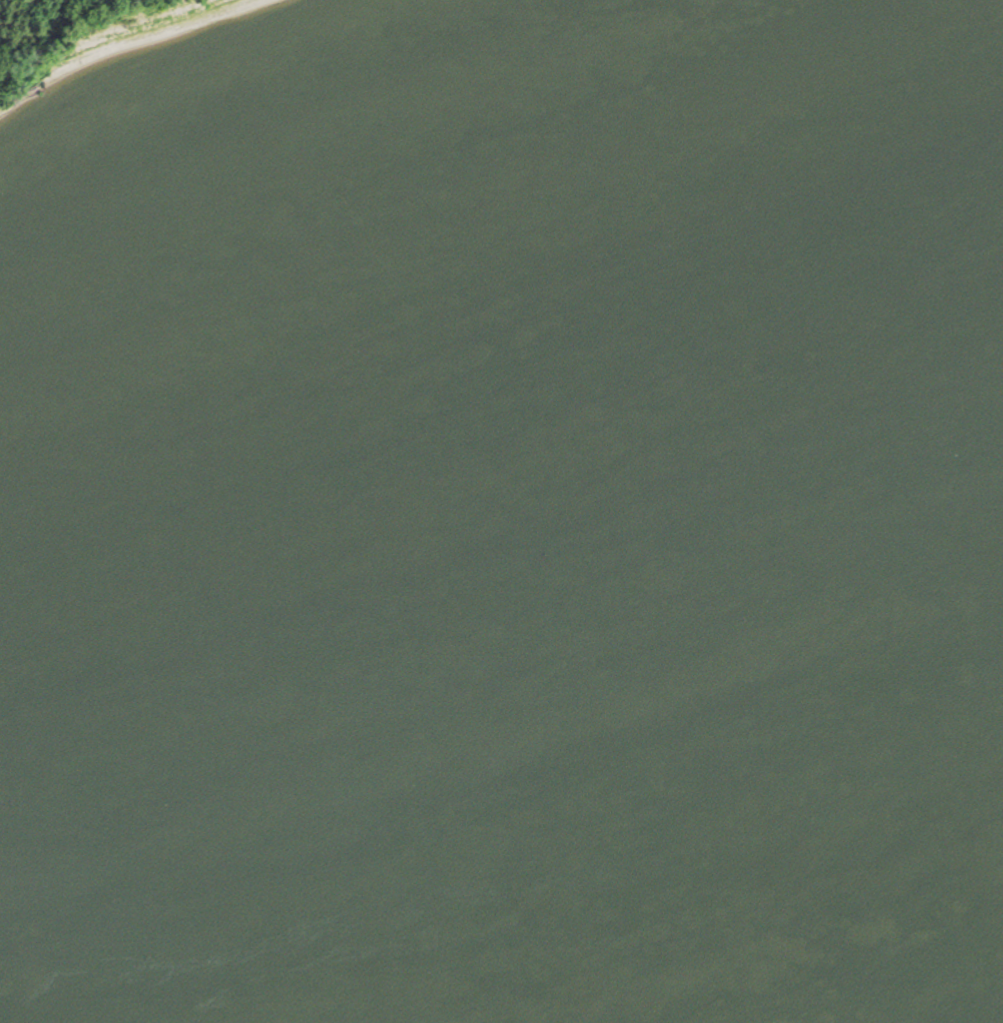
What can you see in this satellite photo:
building: (330, 166)
river: (505, 880)

